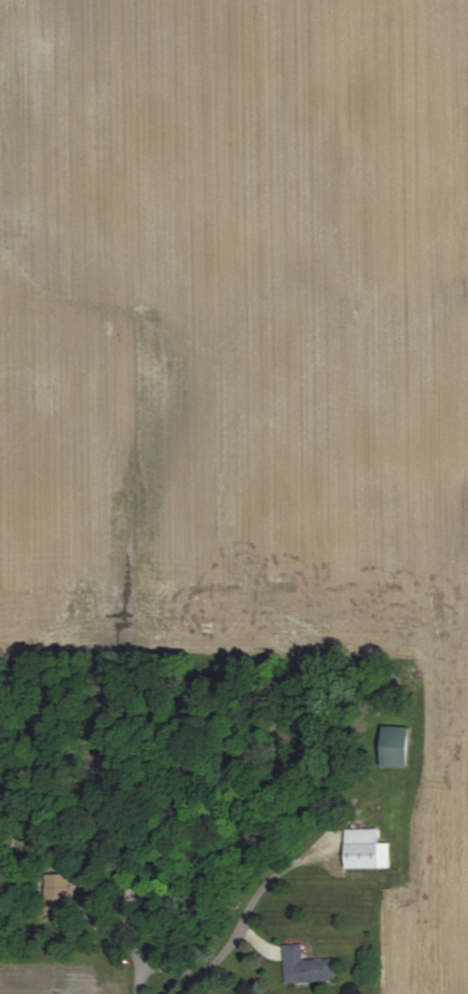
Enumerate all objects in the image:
building: (395, 746)
building: (367, 849)
building: (58, 893)
building: (307, 967)
road: (153, 974)

